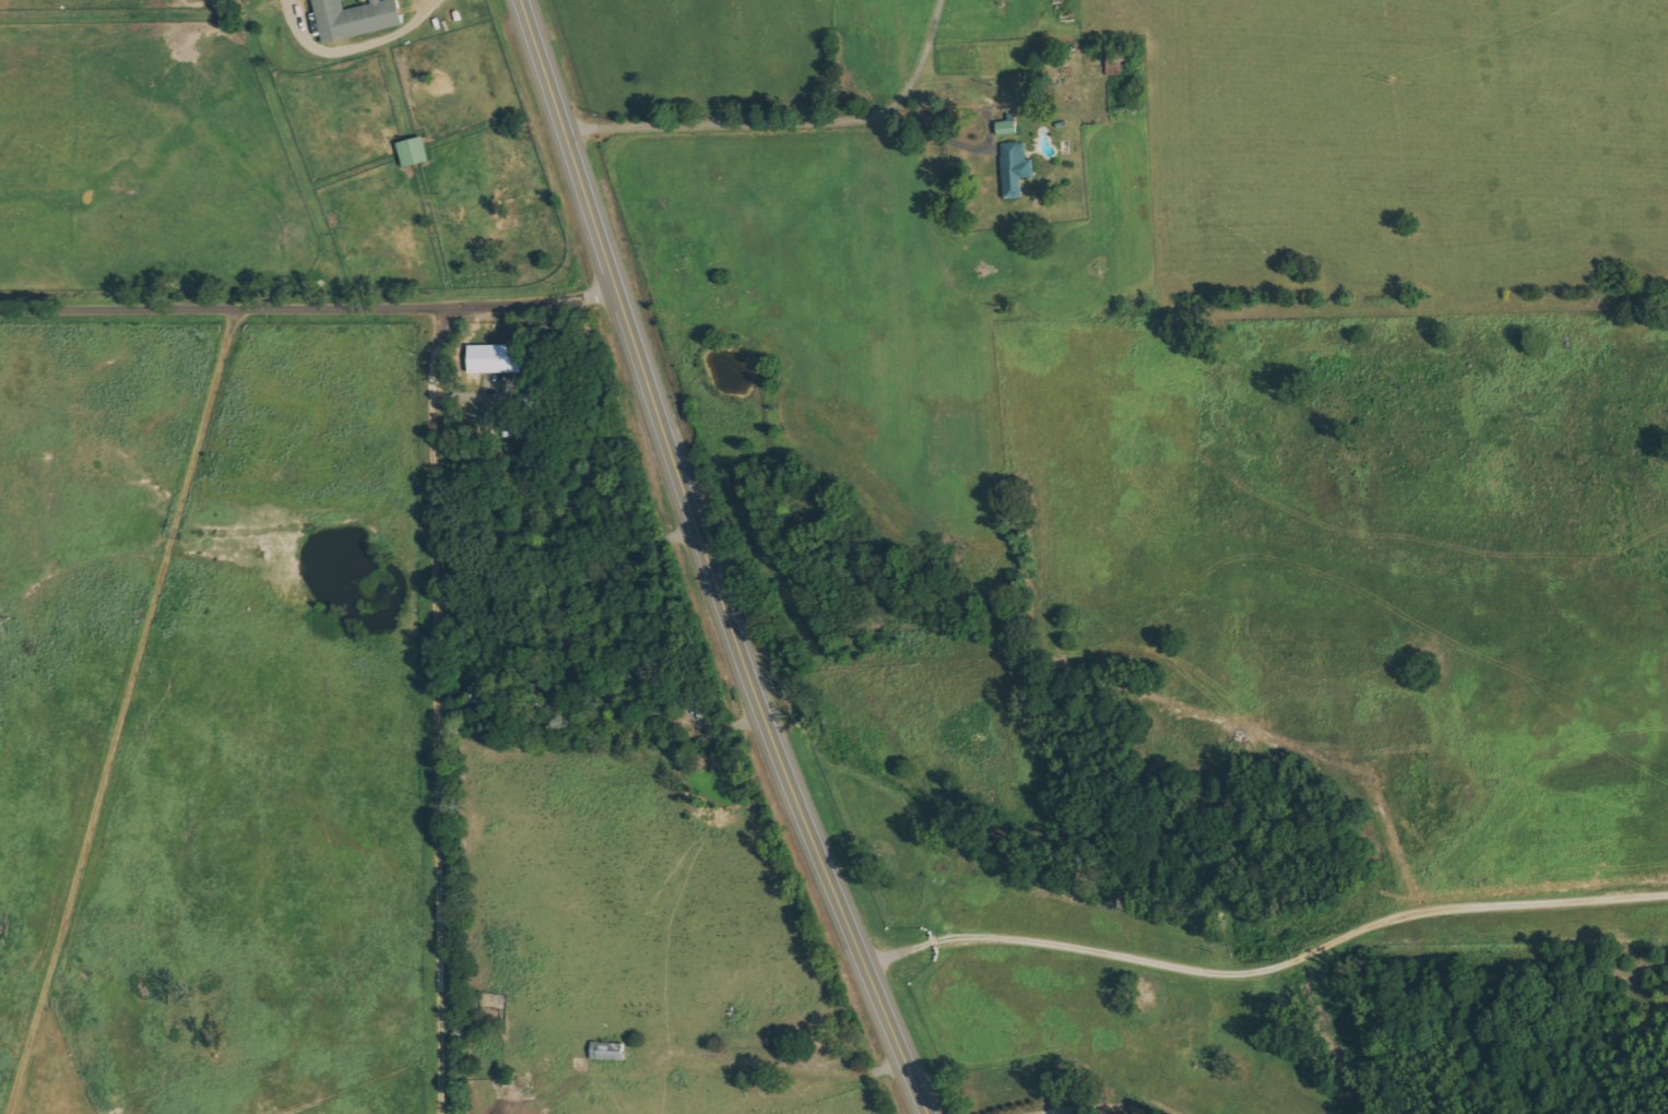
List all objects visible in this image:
building: (353, 16)
road: (748, 98)
building: (1005, 125)
building: (411, 150)
building: (1014, 168)
road: (312, 304)
building: (493, 357)
road: (690, 487)
road: (419, 708)
road: (1006, 1027)
road: (906, 1040)
building: (606, 1051)

